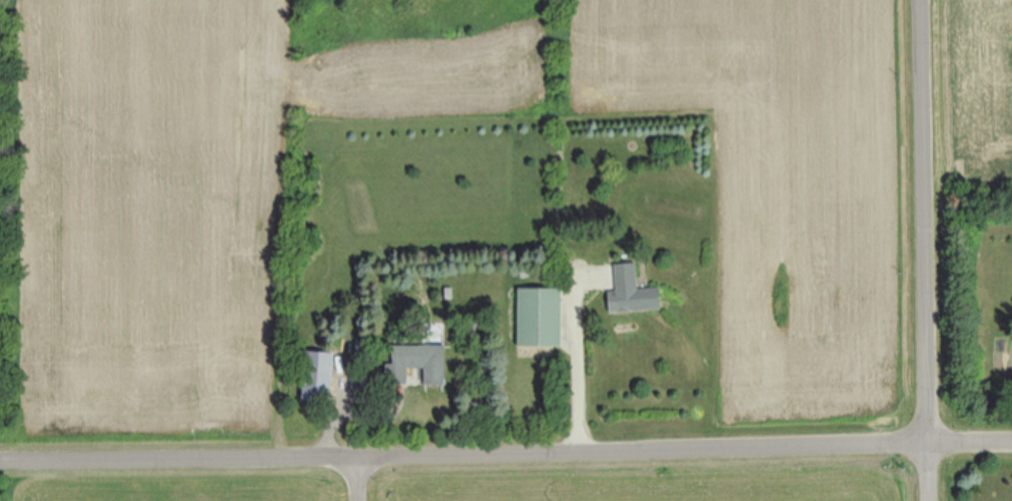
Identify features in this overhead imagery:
crop: (972, 94)
road: (929, 250)
crop: (145, 257)
building: (635, 292)
building: (542, 317)
road: (580, 358)
building: (419, 364)
building: (318, 373)
road: (506, 455)
road: (357, 479)

